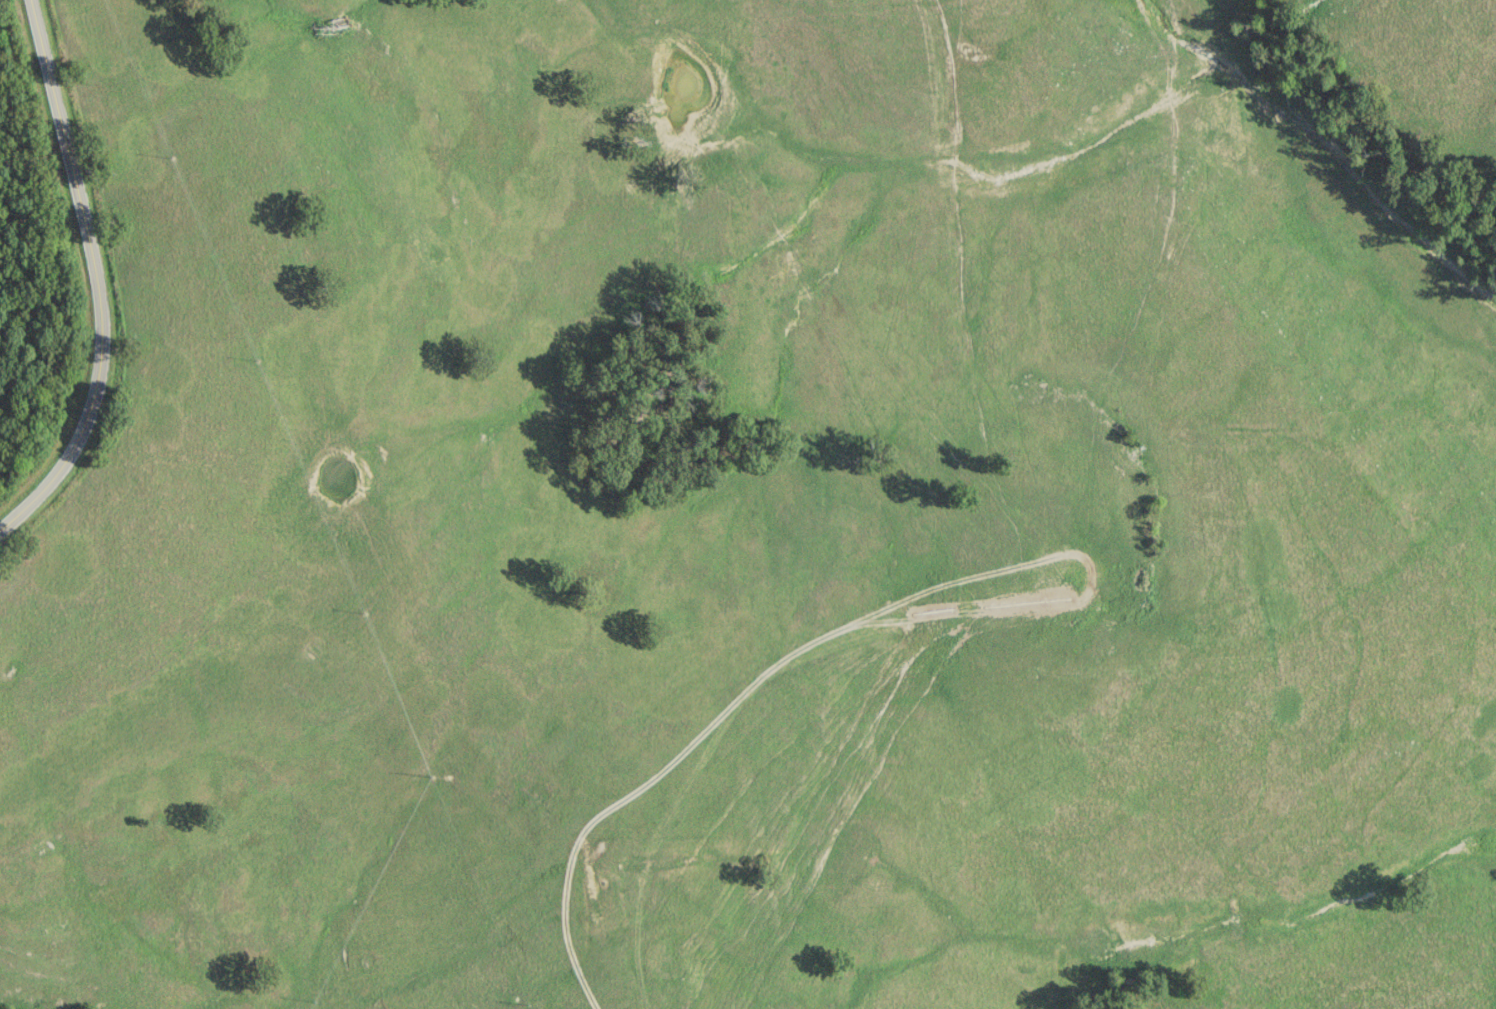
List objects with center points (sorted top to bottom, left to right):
road: (98, 280)

